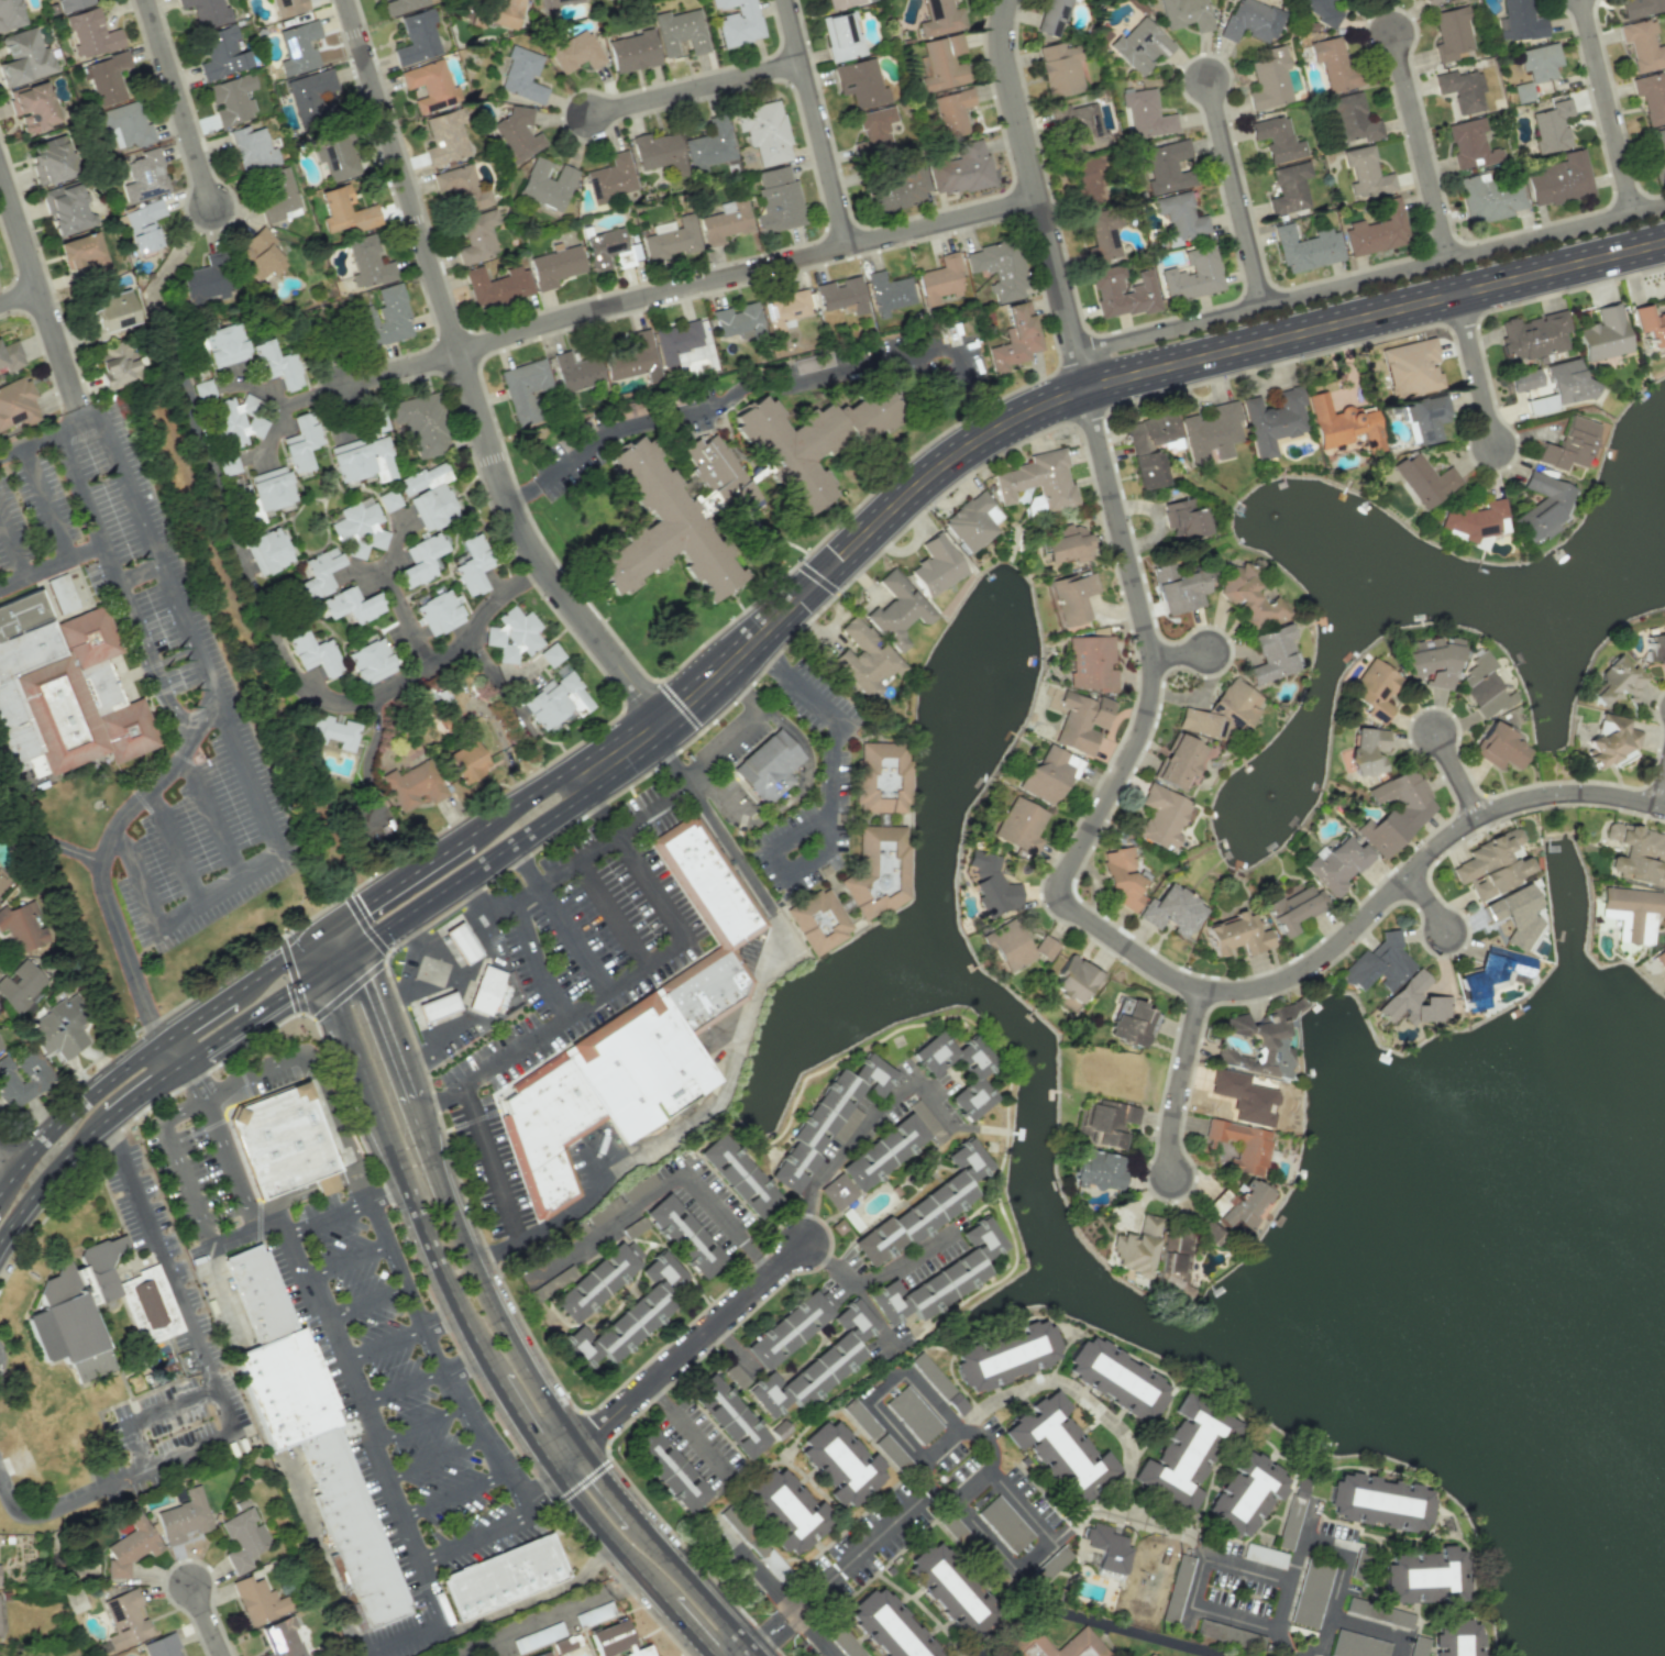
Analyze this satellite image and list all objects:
building: (1431, 2)
building: (841, 3)
building: (73, 4)
building: (553, 4)
building: (401, 5)
building: (288, 7)
building: (1641, 7)
building: (1320, 11)
building: (207, 12)
building: (501, 12)
building: (9, 14)
building: (1184, 14)
building: (1052, 16)
building: (939, 18)
building: (1250, 21)
building: (1519, 21)
building: (738, 22)
building: (681, 32)
building: (92, 33)
building: (1451, 33)
building: (417, 37)
building: (840, 37)
building: (1139, 45)
building: (1643, 45)
building: (298, 47)
building: (632, 51)
building: (576, 52)
building: (221, 53)
building: (24, 57)
building: (1539, 62)
building: (940, 63)
building: (1332, 63)
building: (1059, 68)
building: (521, 76)
building: (106, 77)
building: (1269, 79)
building: (860, 82)
building: (430, 86)
road: (696, 90)
building: (1462, 90)
building: (311, 96)
building: (1651, 97)
building: (231, 99)
building: (32, 106)
road: (1608, 106)
building: (951, 112)
building: (1146, 114)
building: (1354, 120)
road: (818, 122)
building: (1080, 124)
building: (125, 125)
building: (1551, 126)
building: (764, 131)
building: (873, 131)
building: (516, 134)
building: (444, 137)
building: (1277, 140)
building: (1470, 144)
building: (709, 146)
road: (1421, 146)
building: (252, 148)
building: (335, 152)
building: (658, 153)
building: (1656, 153)
building: (51, 161)
road: (202, 169)
building: (960, 169)
building: (1366, 173)
building: (142, 176)
building: (610, 177)
building: (1559, 179)
building: (1089, 180)
building: (461, 187)
building: (898, 188)
building: (1289, 188)
road: (1233, 192)
building: (276, 194)
road: (1038, 196)
building: (1490, 197)
building: (778, 200)
building: (66, 209)
building: (345, 210)
building: (1180, 218)
building: (725, 222)
building: (142, 225)
building: (1377, 230)
building: (477, 236)
building: (1102, 236)
building: (672, 240)
building: (1308, 249)
building: (610, 250)
building: (85, 254)
building: (258, 255)
building: (368, 262)
building: (555, 266)
building: (1000, 268)
building: (1193, 275)
road: (1369, 278)
building: (206, 279)
building: (940, 280)
building: (496, 286)
road: (688, 286)
road: (38, 289)
building: (1122, 291)
building: (889, 292)
building: (842, 295)
road: (20, 298)
building: (785, 309)
building: (110, 313)
building: (385, 317)
building: (738, 321)
building: (1649, 324)
building: (1603, 334)
building: (1533, 335)
building: (1015, 338)
building: (679, 343)
building: (224, 344)
building: (10, 356)
building: (629, 356)
road: (175, 357)
building: (115, 364)
building: (276, 365)
building: (1411, 367)
road: (1473, 369)
building: (576, 372)
road: (467, 380)
building: (1524, 383)
building: (1561, 387)
building: (202, 389)
building: (523, 390)
road: (1085, 390)
road: (739, 396)
building: (16, 402)
road: (277, 405)
building: (1425, 417)
building: (235, 421)
building: (1273, 421)
building: (422, 423)
building: (1342, 424)
building: (1210, 433)
road: (49, 437)
building: (809, 440)
building: (300, 443)
building: (1569, 445)
building: (1150, 448)
building: (363, 460)
building: (717, 473)
building: (1425, 479)
building: (1039, 481)
road: (78, 489)
road: (131, 490)
building: (263, 494)
building: (428, 494)
building: (388, 500)
road: (45, 501)
building: (1543, 507)
building: (1183, 519)
building: (1473, 519)
building: (972, 521)
building: (360, 528)
building: (662, 529)
building: (1066, 543)
road: (10, 550)
building: (267, 551)
building: (420, 560)
road: (49, 563)
building: (472, 564)
building: (936, 565)
building: (318, 574)
road: (120, 581)
building: (1179, 587)
building: (1073, 596)
building: (1248, 598)
building: (352, 605)
building: (897, 610)
building: (438, 612)
road: (406, 618)
road: (189, 631)
building: (512, 634)
road: (143, 639)
building: (1654, 648)
building: (312, 653)
building: (551, 654)
road: (1181, 654)
building: (1272, 654)
building: (864, 659)
building: (371, 661)
building: (1090, 663)
building: (1431, 663)
road: (294, 675)
road: (497, 681)
building: (1616, 682)
building: (1484, 687)
building: (1375, 688)
building: (63, 691)
road: (743, 692)
building: (556, 700)
road: (679, 706)
building: (1221, 710)
road: (179, 719)
building: (1078, 720)
building: (332, 731)
building: (1612, 738)
building: (1500, 747)
building: (1365, 751)
building: (467, 760)
building: (1178, 762)
building: (769, 766)
road: (167, 770)
building: (1048, 774)
building: (883, 776)
road: (1459, 776)
building: (414, 785)
road: (541, 787)
road: (1663, 798)
road: (833, 799)
road: (653, 807)
building: (1394, 810)
road: (598, 814)
building: (1160, 816)
road: (212, 819)
building: (1019, 826)
road: (721, 840)
road: (280, 849)
road: (175, 850)
building: (1636, 854)
road: (492, 860)
building: (1336, 864)
building: (1493, 864)
road: (521, 869)
building: (879, 870)
building: (1121, 877)
building: (1, 881)
building: (706, 883)
road: (397, 884)
road: (648, 885)
building: (992, 885)
road: (133, 886)
road: (519, 898)
road: (1432, 903)
road: (487, 906)
building: (1292, 908)
building: (1170, 910)
road: (609, 912)
building: (1631, 913)
building: (1515, 915)
road: (463, 916)
building: (818, 920)
building: (22, 926)
building: (1236, 935)
road: (567, 940)
building: (461, 942)
parking lot: (589, 942)
building: (1008, 945)
building: (1045, 947)
road: (1123, 947)
road: (326, 951)
road: (126, 956)
building: (1661, 958)
road: (340, 962)
road: (533, 962)
road: (641, 962)
road: (379, 963)
building: (1378, 964)
road: (429, 973)
road: (294, 974)
building: (1490, 975)
building: (1074, 979)
building: (1664, 980)
building: (20, 985)
building: (486, 990)
gas station: (486, 990)
building: (1414, 1002)
building: (437, 1006)
road: (255, 1017)
road: (457, 1018)
building: (1132, 1023)
building: (57, 1030)
road: (529, 1038)
building: (1259, 1045)
road: (151, 1048)
building: (33, 1070)
building: (973, 1072)
building: (617, 1074)
road: (365, 1075)
road: (194, 1080)
road: (228, 1084)
road: (1181, 1084)
road: (723, 1088)
road: (145, 1089)
building: (1244, 1097)
road: (434, 1100)
building: (828, 1118)
building: (1106, 1122)
building: (280, 1138)
building: (1242, 1145)
building: (883, 1152)
road: (225, 1155)
road: (7, 1161)
building: (1096, 1171)
road: (344, 1174)
road: (49, 1175)
building: (738, 1175)
road: (326, 1181)
road: (386, 1189)
road: (441, 1190)
building: (837, 1191)
road: (295, 1194)
road: (639, 1200)
building: (925, 1206)
building: (1238, 1206)
road: (326, 1217)
road: (250, 1228)
road: (201, 1230)
road: (514, 1234)
building: (683, 1236)
building: (1135, 1247)
road: (797, 1254)
road: (495, 1255)
road: (911, 1258)
building: (1172, 1259)
road: (345, 1261)
road: (169, 1276)
building: (941, 1277)
road: (446, 1281)
building: (595, 1282)
road: (404, 1287)
road: (854, 1288)
road: (362, 1303)
building: (148, 1306)
building: (76, 1310)
building: (627, 1317)
road: (442, 1320)
building: (790, 1327)
road: (381, 1344)
building: (1005, 1356)
road: (462, 1358)
building: (817, 1365)
building: (736, 1376)
building: (1115, 1379)
road: (890, 1384)
building: (938, 1384)
road: (398, 1385)
road: (1083, 1396)
road: (173, 1404)
road: (357, 1412)
building: (913, 1415)
building: (729, 1416)
building: (862, 1420)
road: (523, 1421)
road: (416, 1423)
building: (310, 1431)
road: (690, 1431)
road: (951, 1434)
road: (137, 1446)
building: (1059, 1448)
building: (1184, 1453)
road: (564, 1455)
road: (169, 1458)
road: (432, 1459)
building: (840, 1464)
road: (555, 1470)
building: (669, 1471)
road: (582, 1481)
road: (540, 1487)
road: (961, 1489)
road: (451, 1493)
building: (1245, 1494)
building: (1379, 1502)
road: (44, 1510)
building: (785, 1510)
building: (183, 1516)
road: (1128, 1517)
building: (1290, 1520)
road: (1308, 1523)
building: (1004, 1524)
building: (732, 1531)
road: (476, 1536)
building: (242, 1538)
road: (613, 1538)
building: (964, 1542)
building: (129, 1544)
road: (1322, 1547)
building: (1107, 1548)
road: (664, 1552)
road: (1033, 1552)
road: (857, 1553)
building: (1056, 1561)
road: (1297, 1561)
road: (1246, 1570)
building: (1358, 1570)
building: (504, 1576)
building: (1424, 1576)
building: (1179, 1582)
road: (773, 1589)
building: (950, 1591)
building: (1311, 1592)
building: (256, 1600)
road: (1332, 1610)
building: (1379, 1612)
road: (555, 1613)
building: (124, 1619)
road: (206, 1619)
road: (1251, 1620)
road: (1013, 1623)
building: (887, 1625)
road: (1374, 1627)
road: (692, 1629)
road: (1133, 1631)
building: (1082, 1634)
road: (762, 1635)
building: (1228, 1635)
building: (282, 1637)
road: (405, 1637)
building: (1455, 1637)
building: (531, 1640)
building: (615, 1641)
building: (1357, 1645)
building: (161, 1646)
building: (1413, 1652)
building: (542, 1654)
building: (1150, 1655)

